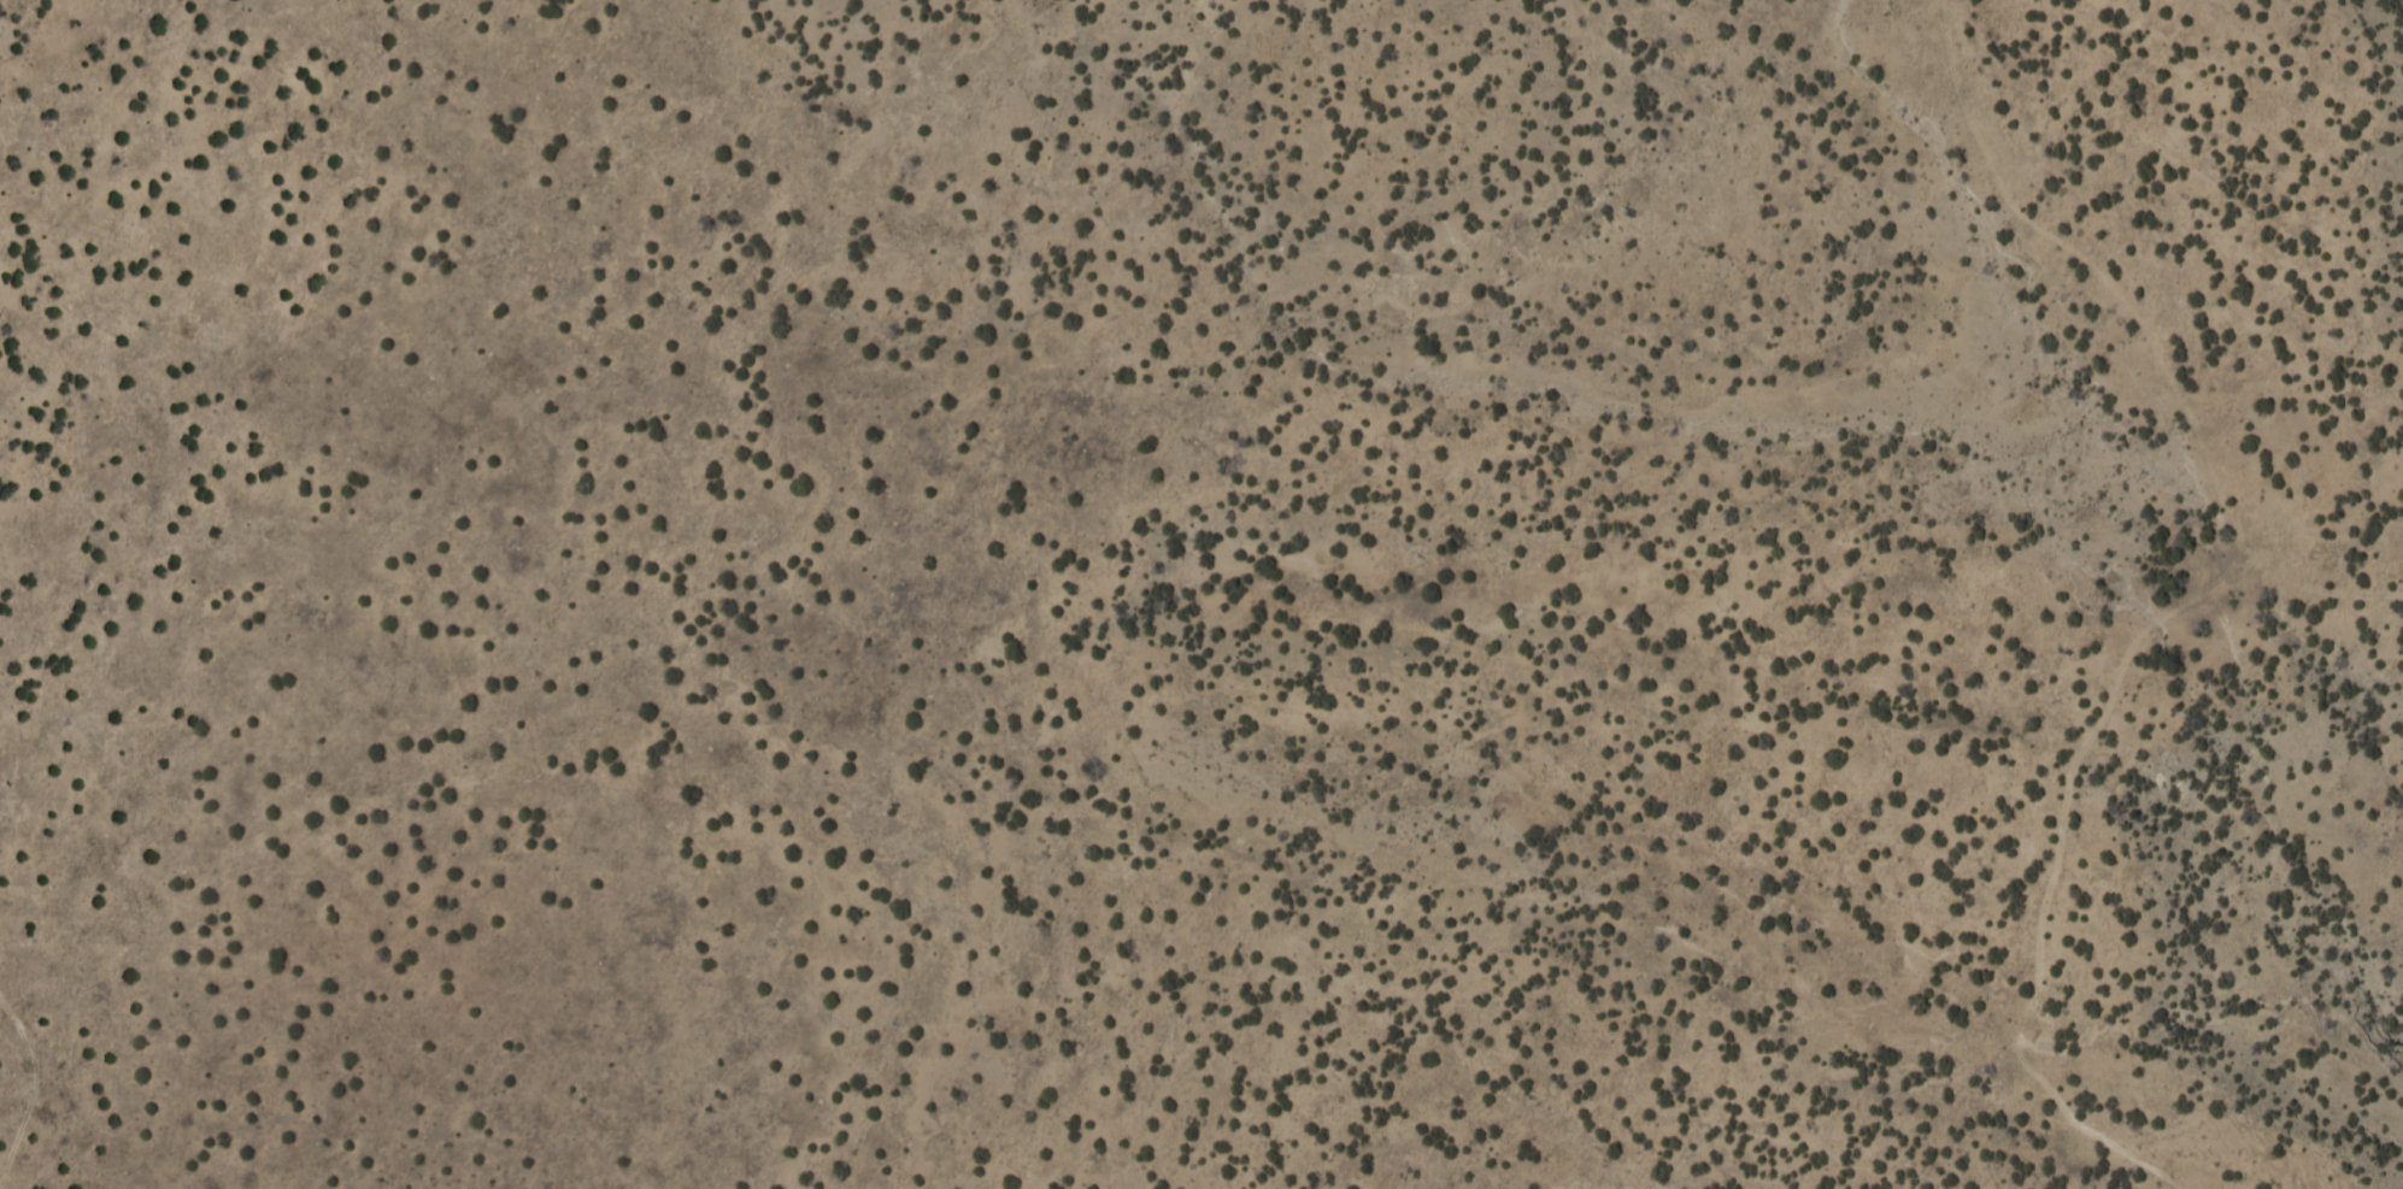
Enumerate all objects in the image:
road: (2039, 937)

